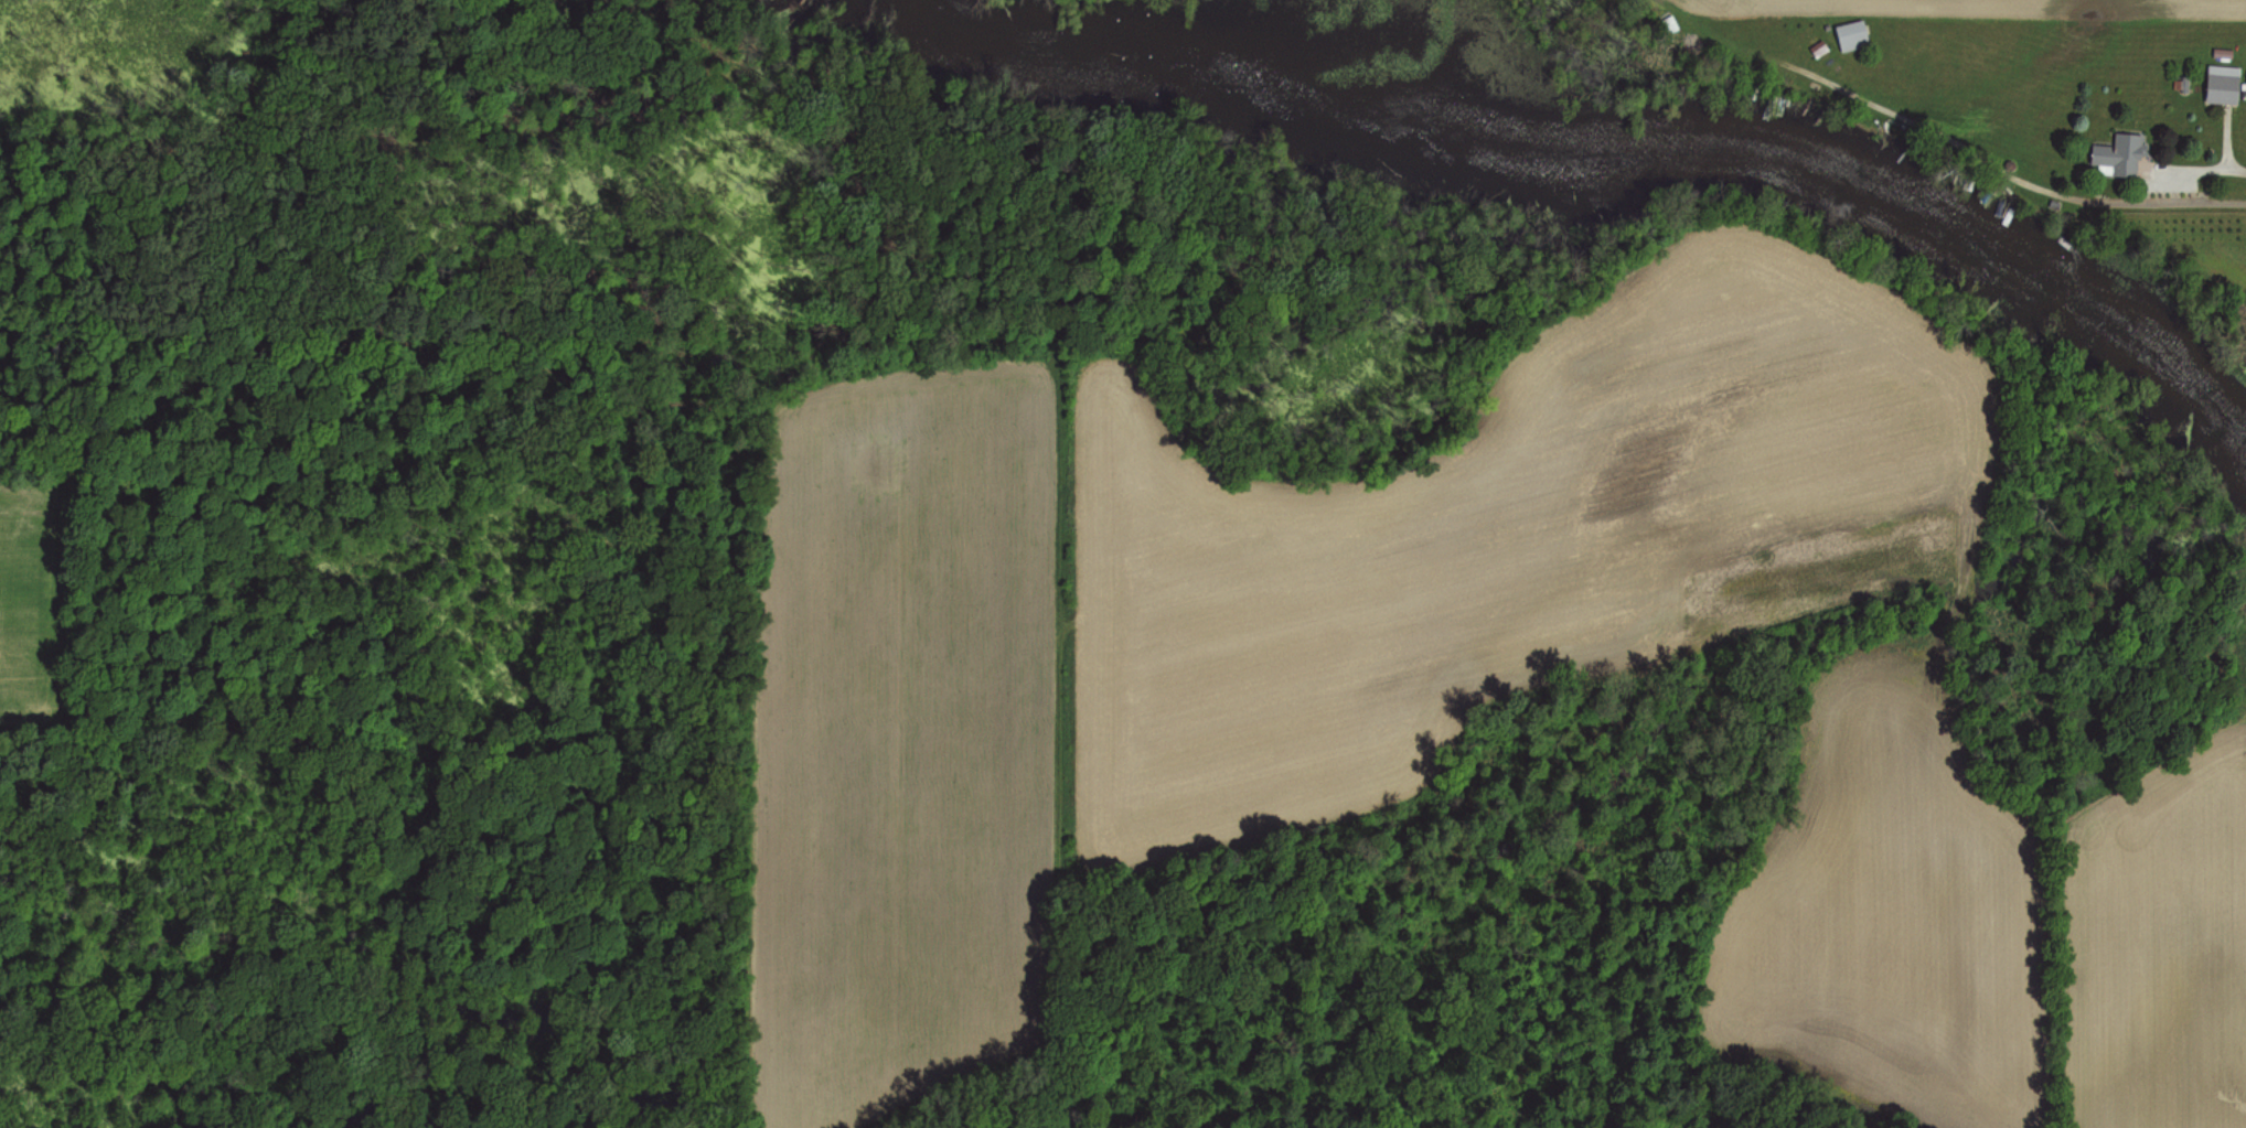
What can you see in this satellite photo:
river: (912, 20)
building: (1854, 36)
building: (2224, 85)
building: (2120, 157)
road: (2192, 169)
road: (2014, 180)

